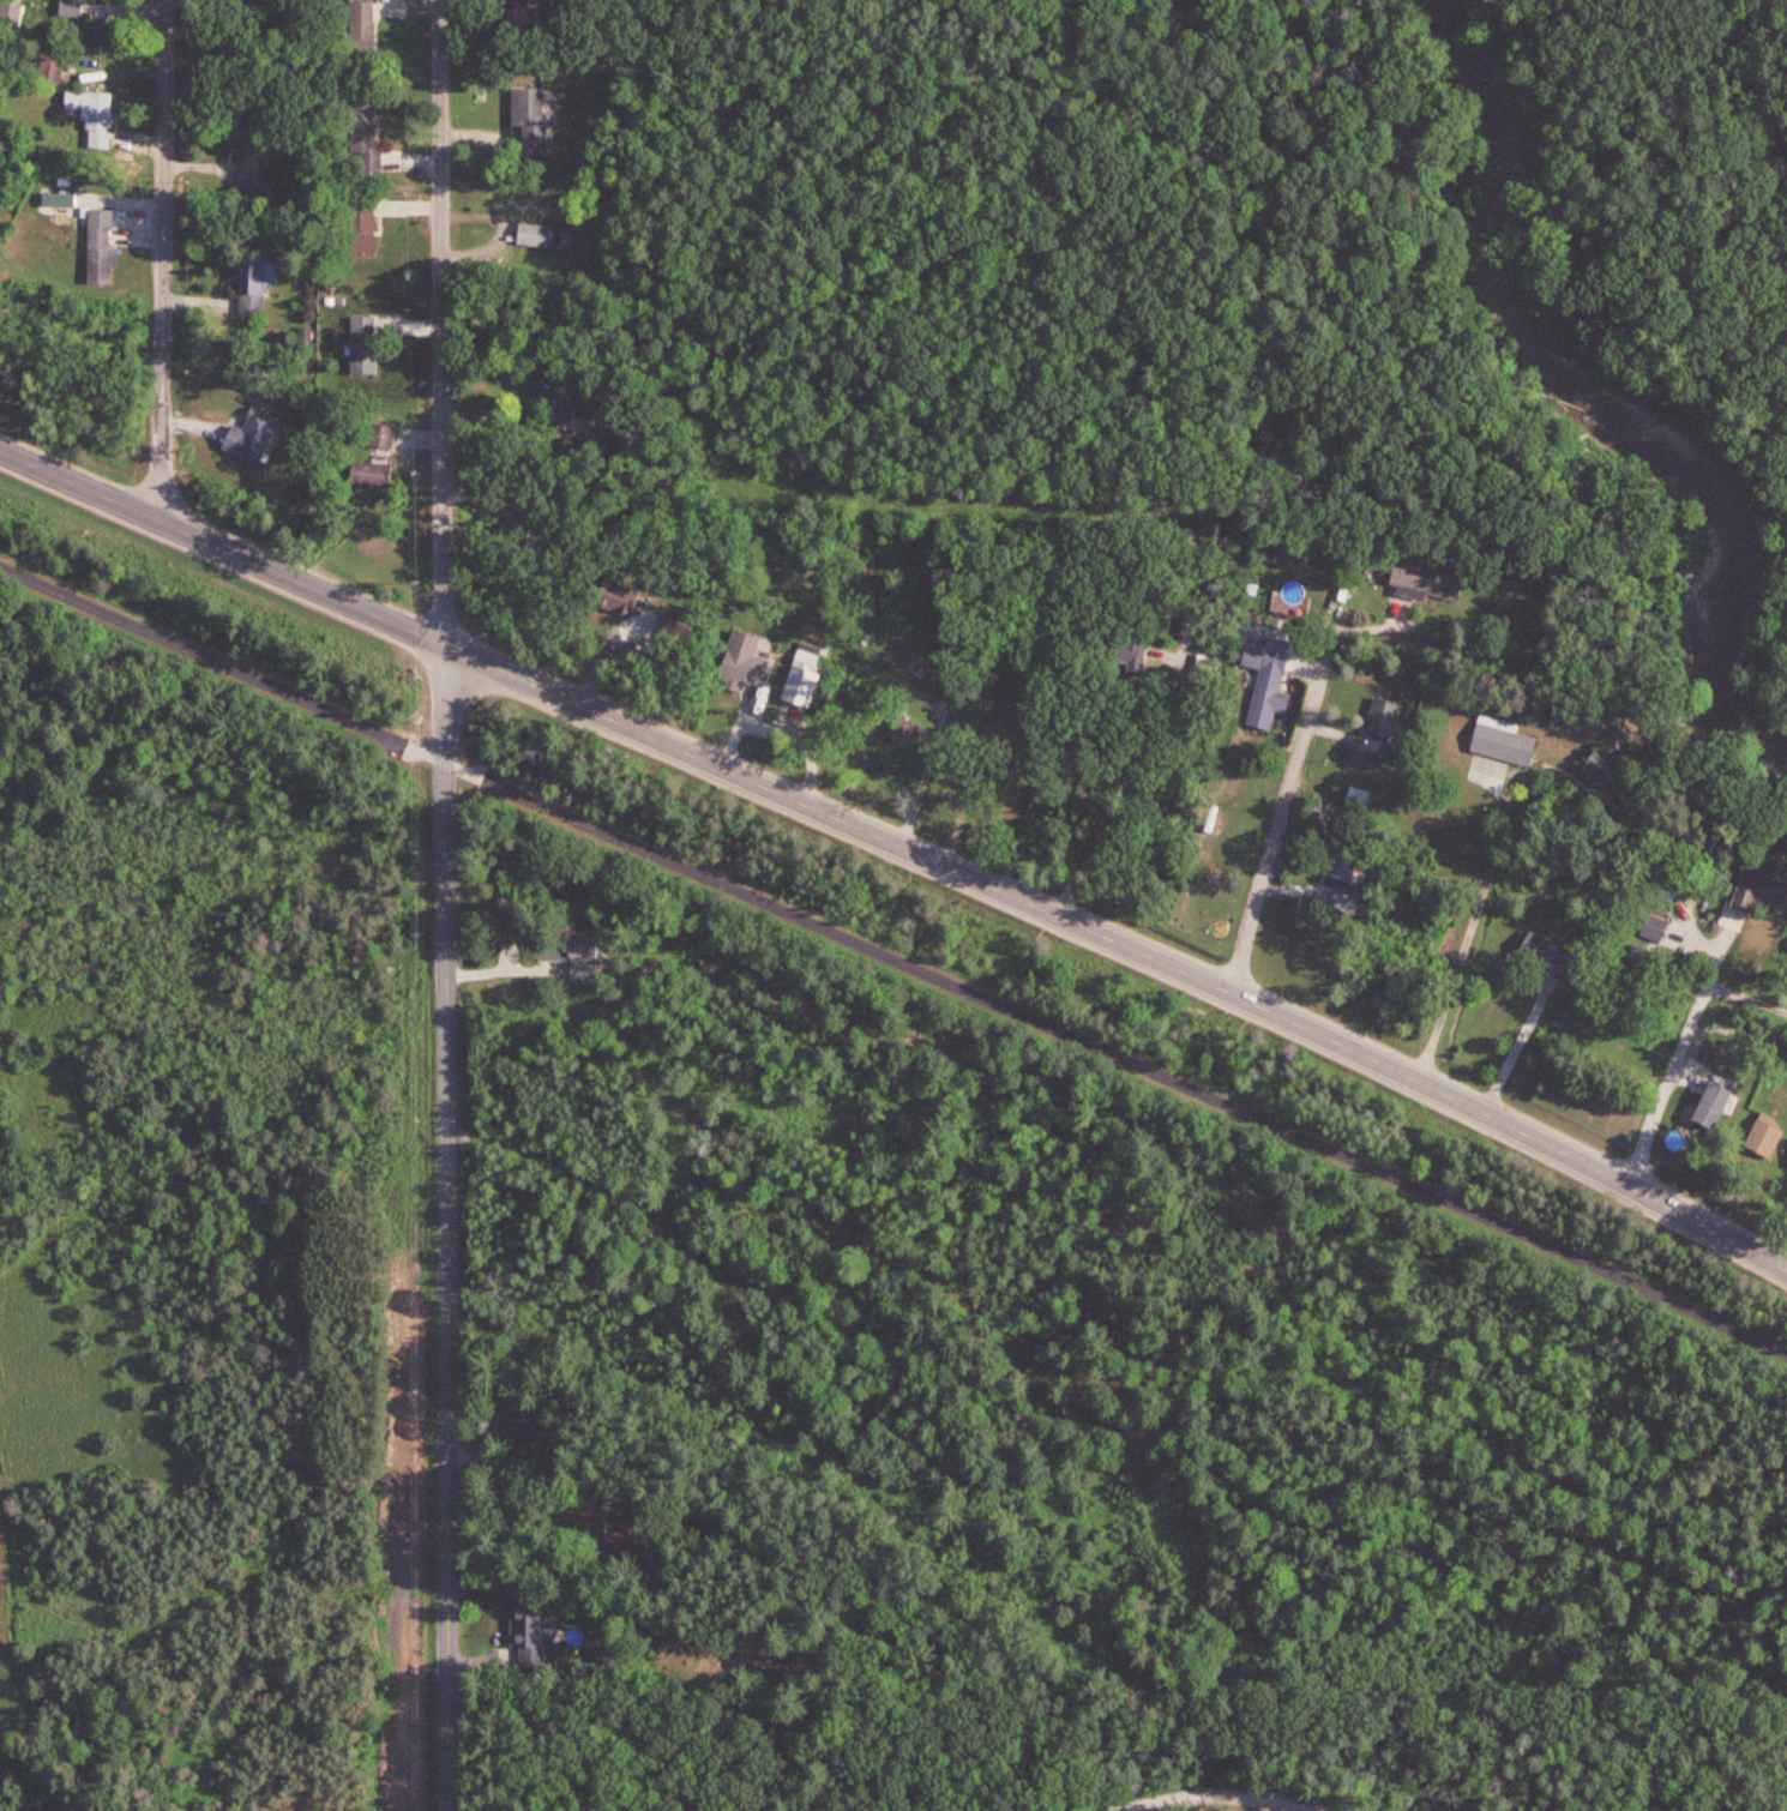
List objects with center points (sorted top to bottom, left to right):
building: (86, 1)
building: (60, 6)
building: (245, 11)
building: (362, 20)
building: (515, 24)
building: (48, 61)
building: (533, 118)
building: (96, 119)
building: (363, 134)
building: (252, 162)
building: (535, 195)
building: (363, 224)
building: (535, 235)
building: (108, 246)
road: (164, 264)
building: (254, 283)
building: (363, 338)
river: (1612, 372)
building: (588, 396)
road: (518, 422)
building: (254, 429)
building: (383, 431)
building: (372, 473)
building: (537, 518)
building: (516, 534)
building: (1430, 582)
building: (619, 592)
building: (1197, 619)
building: (676, 625)
building: (811, 652)
building: (1126, 655)
building: (738, 663)
building: (1266, 680)
building: (1383, 716)
building: (903, 728)
building: (1504, 744)
building: (1605, 770)
road: (1138, 798)
building: (1356, 798)
road: (1284, 812)
road: (901, 846)
building: (1347, 858)
building: (1756, 891)
building: (1347, 902)
road: (445, 904)
building: (1656, 928)
road: (1468, 933)
building: (570, 951)
building: (1545, 955)
road: (894, 957)
building: (1642, 962)
road: (1746, 998)
road: (1514, 1052)
road: (1680, 1055)
building: (1711, 1113)
building: (1767, 1133)
building: (533, 1432)
building: (626, 1539)
building: (529, 1635)
park: (1119, 1755)
road: (1232, 1789)

